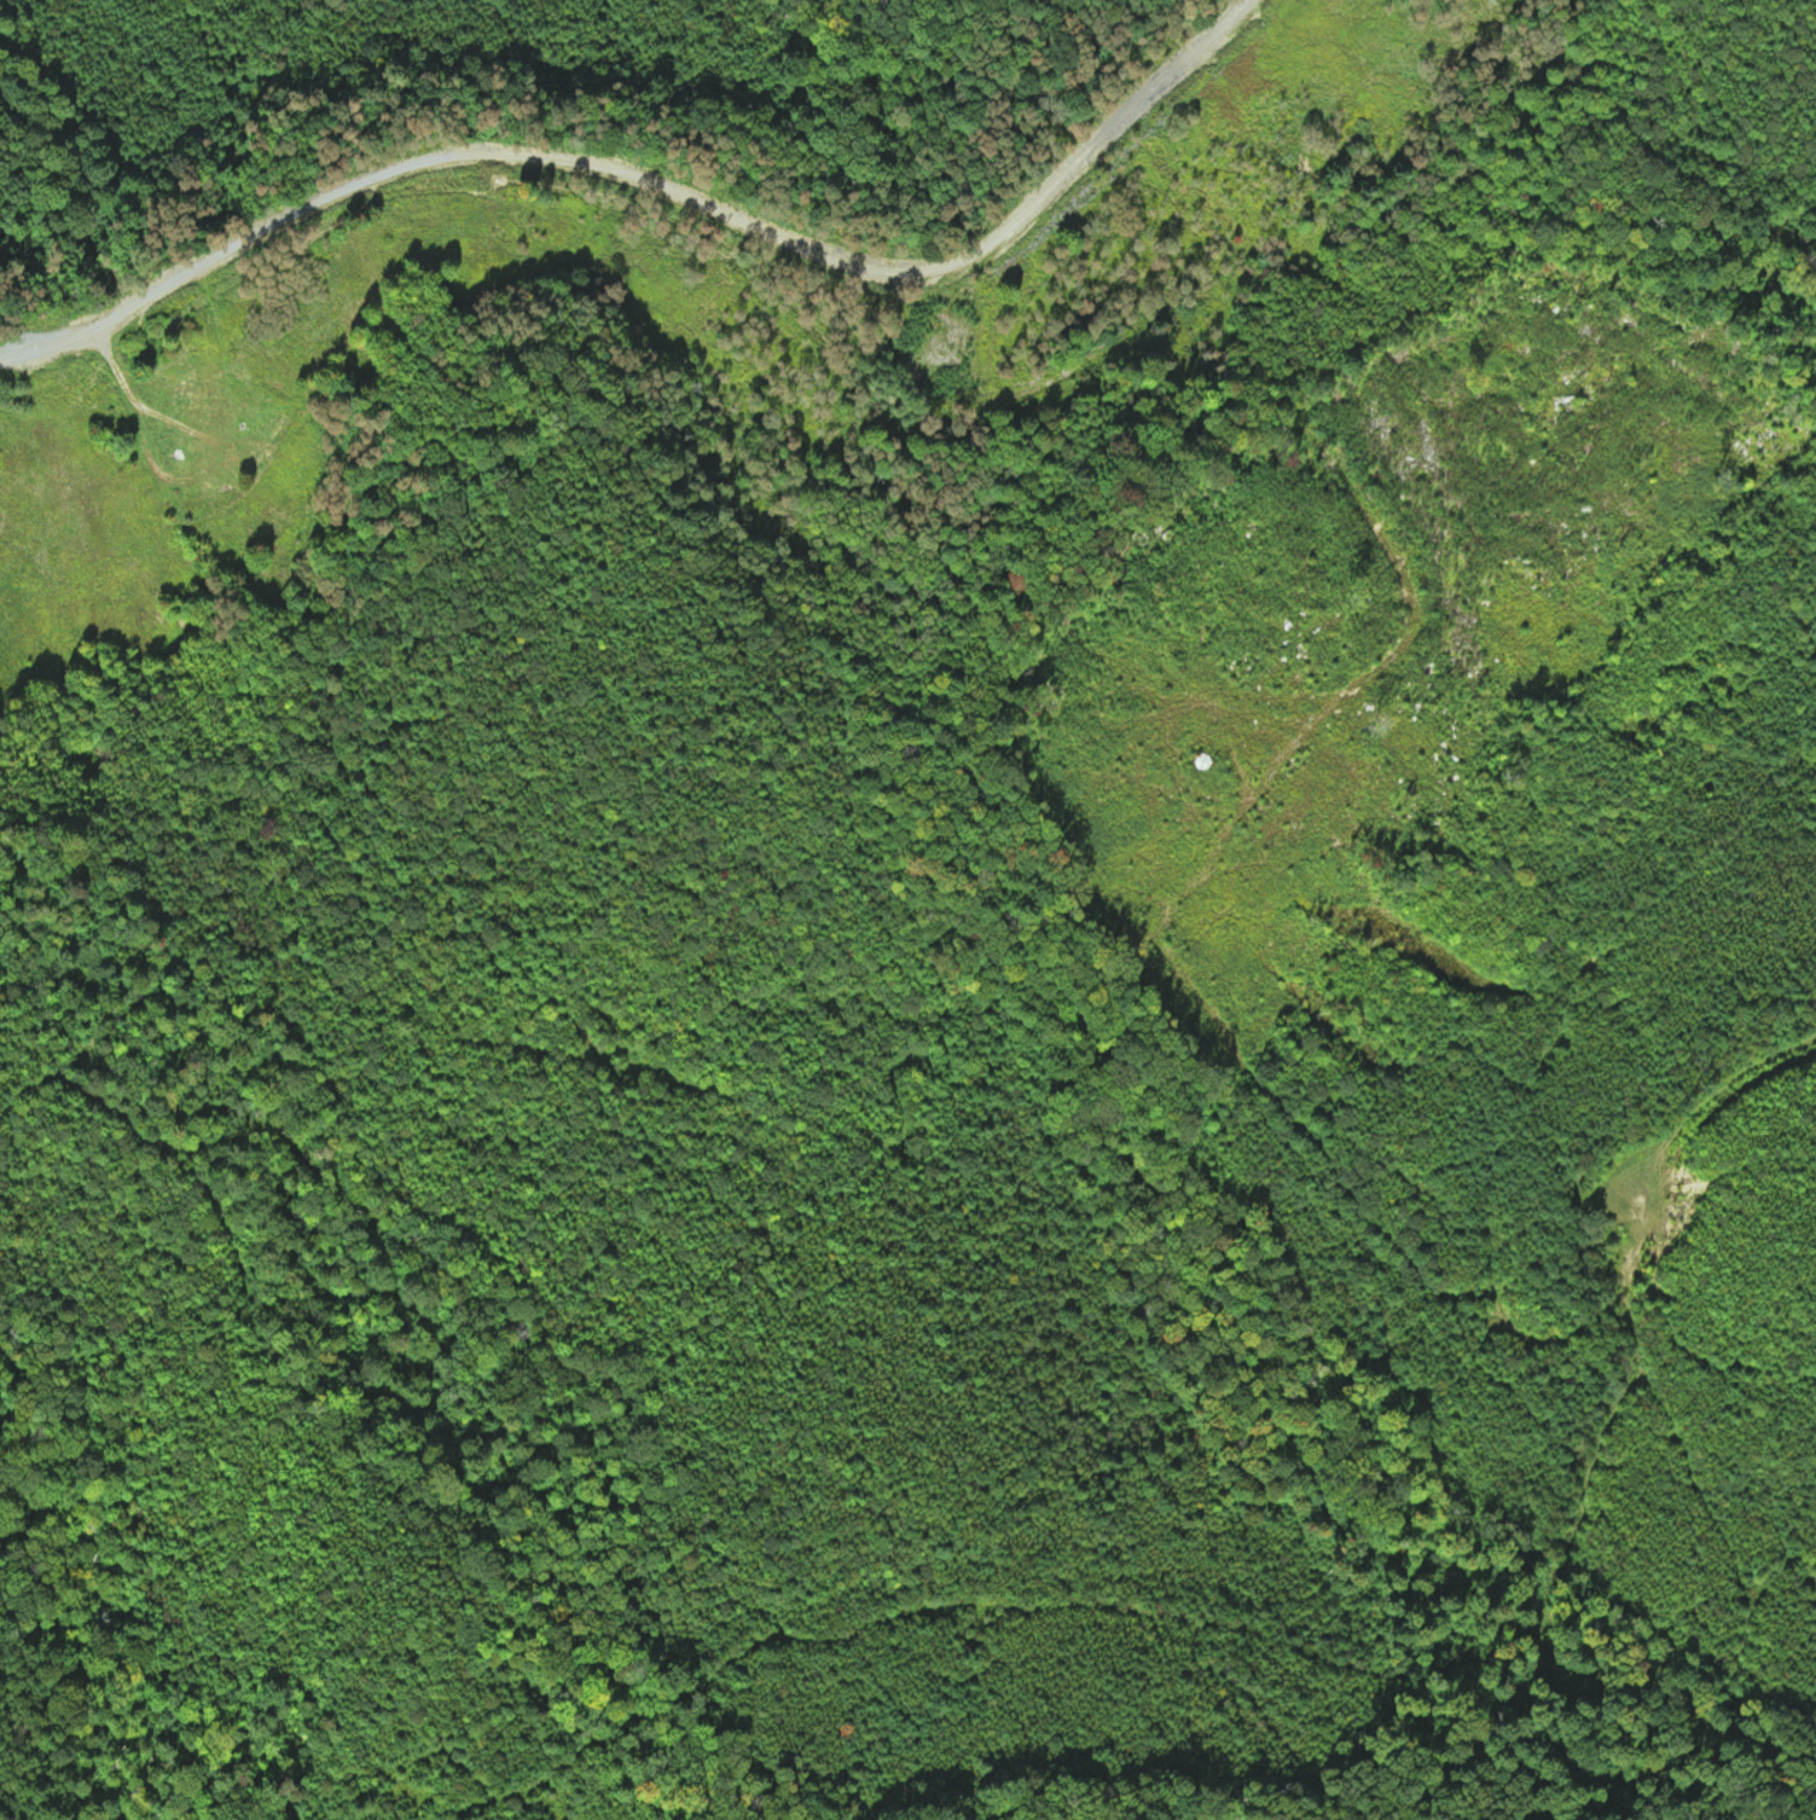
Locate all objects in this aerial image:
road: (959, 35)
road: (204, 92)

